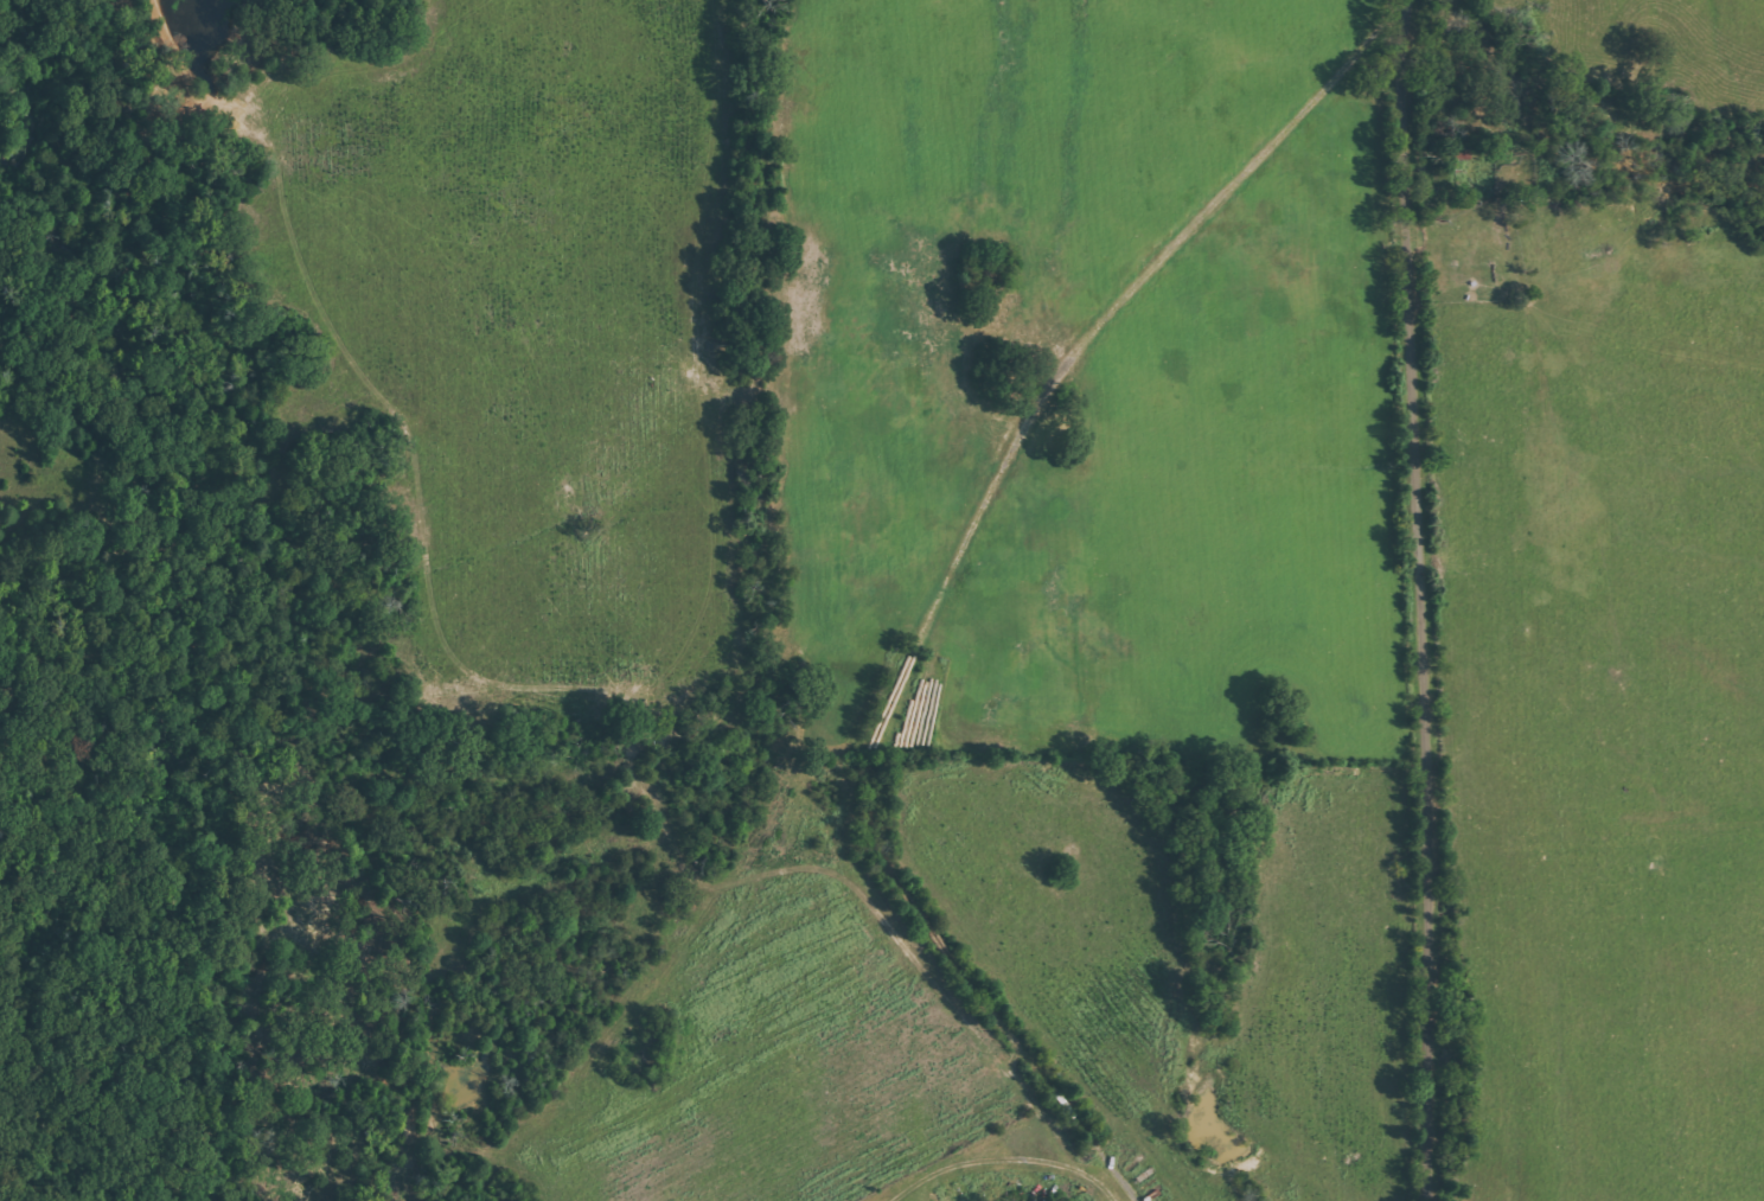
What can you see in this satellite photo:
road: (1424, 599)

